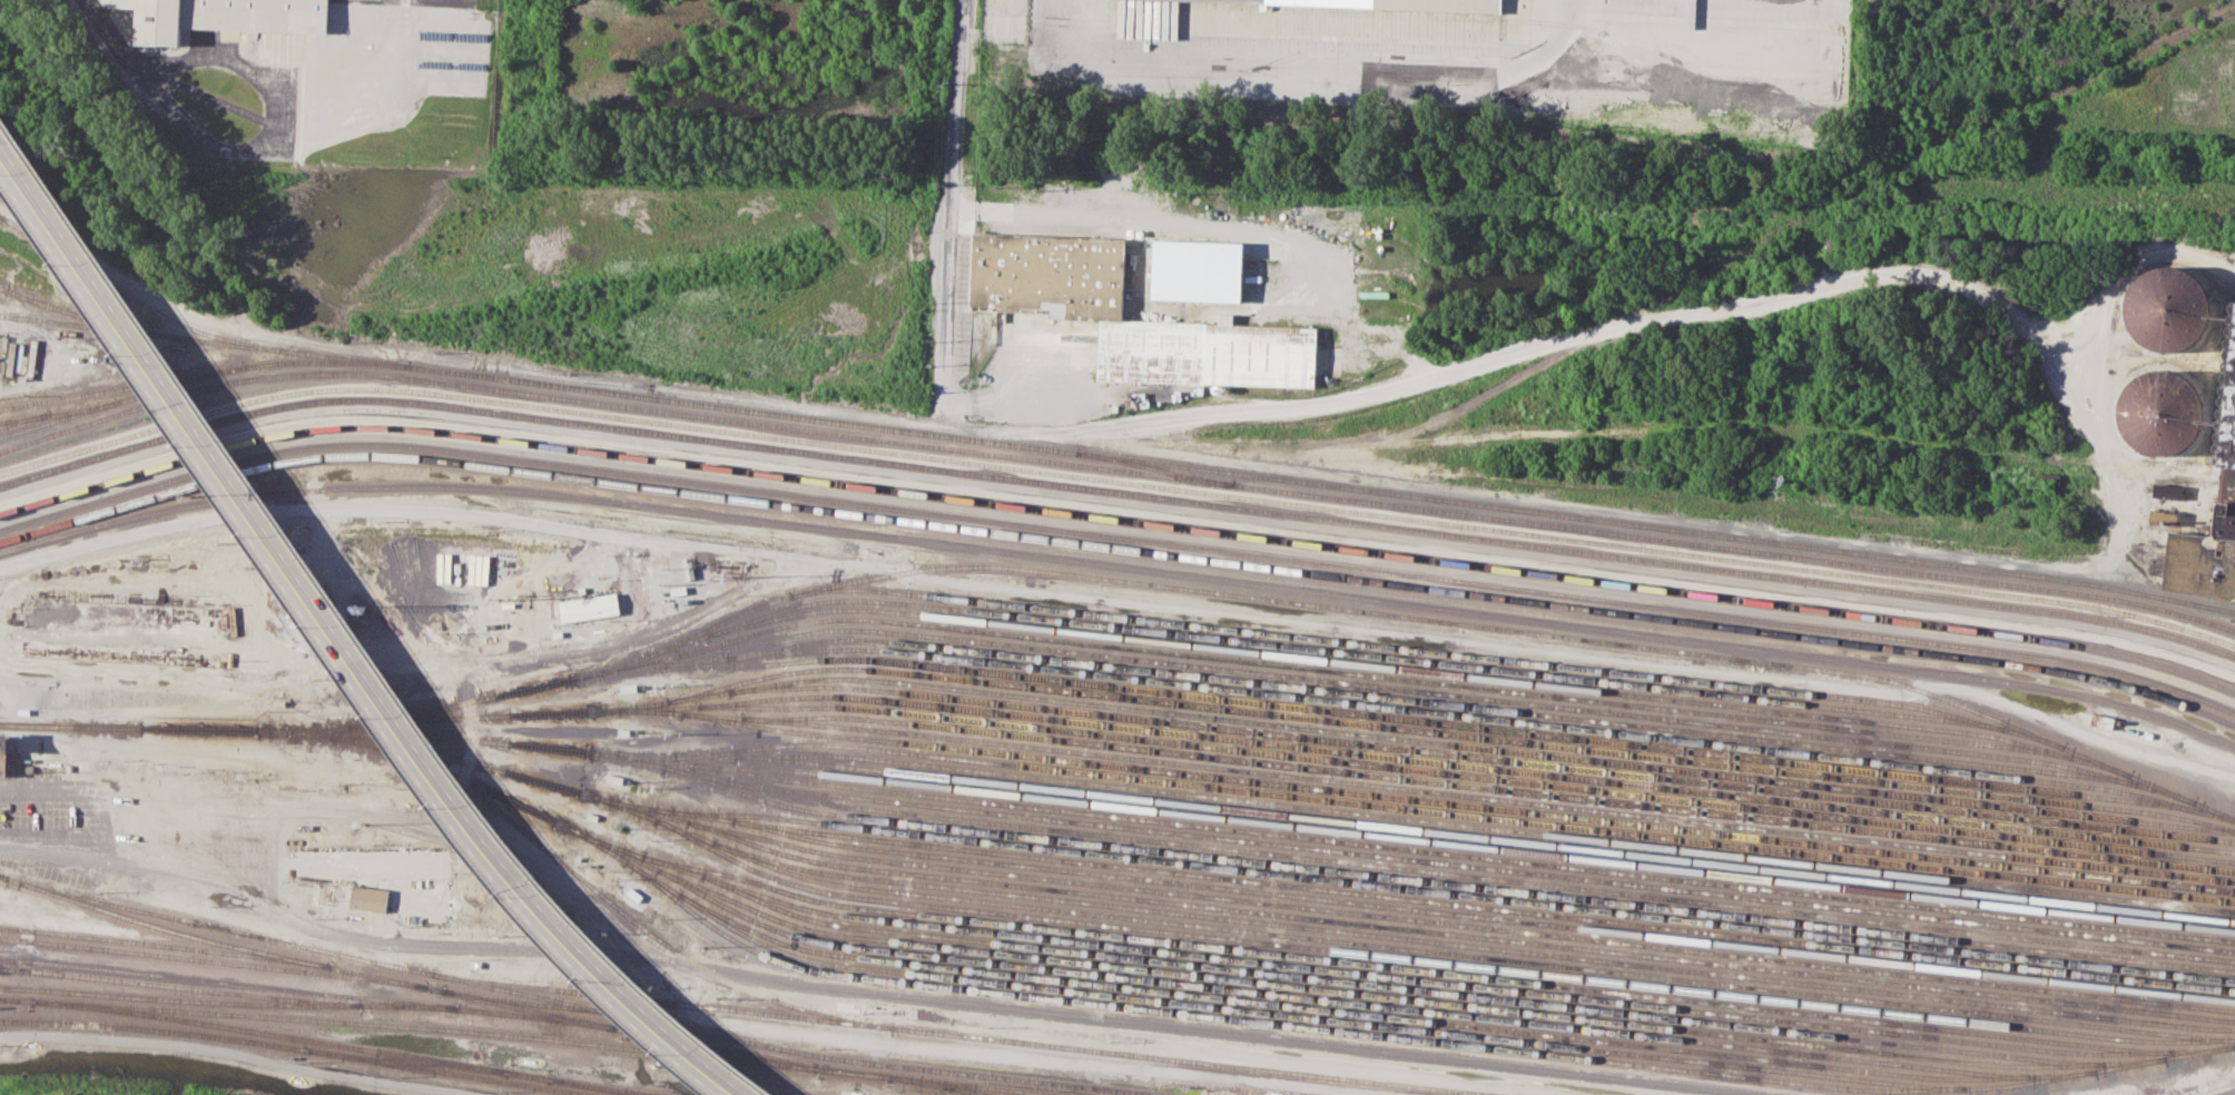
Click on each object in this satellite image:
building: (1378, 6)
building: (225, 17)
road: (1549, 28)
wind turbine: (366, 43)
road: (1438, 67)
railway: (90, 142)
railway: (1936, 144)
railway: (116, 156)
road: (949, 215)
road: (1115, 218)
road: (2124, 269)
building: (1195, 270)
building: (1052, 275)
railway: (136, 297)
building: (2164, 308)
railway: (90, 316)
railway: (201, 339)
road: (1515, 348)
building: (1208, 354)
railway: (118, 399)
building: (2227, 404)
building: (2158, 412)
railway: (57, 413)
railway: (22, 418)
railway: (1117, 457)
railway: (1114, 471)
railway: (1175, 471)
railway: (1115, 481)
railway: (1115, 493)
railway: (1115, 510)
railway: (1116, 519)
railway: (1116, 535)
railway: (1116, 546)
building: (2200, 546)
railway: (1120, 565)
road: (1121, 602)
building: (589, 605)
railway: (1369, 611)
road: (343, 642)
railway: (1328, 650)
railway: (1426, 650)
road: (422, 662)
railway: (1319, 668)
railway: (1416, 669)
railway: (1426, 691)
railway: (1353, 693)
railway: (709, 696)
railway: (661, 708)
railway: (590, 710)
railway: (688, 712)
railway: (385, 718)
railway: (431, 718)
railway: (1489, 718)
railway: (1424, 720)
railway: (137, 726)
railway: (391, 732)
railway: (1451, 734)
railway: (383, 747)
railway: (1490, 748)
railway: (417, 749)
railway: (649, 754)
railway: (1491, 758)
building: (6, 761)
railway: (1471, 766)
railway: (1471, 776)
railway: (1498, 788)
railway: (1498, 798)
railway: (1458, 803)
railway: (1458, 813)
railway: (1458, 823)
railway: (568, 827)
railway: (1487, 837)
railway: (1370, 845)
railway: (1467, 845)
railway: (1424, 860)
railway: (1, 875)
railway: (1478, 877)
railway: (1449, 881)
railway: (1368, 884)
building: (367, 898)
railway: (1457, 902)
railway: (1488, 917)
railway: (1417, 918)
railway: (634, 921)
railway: (228, 929)
railway: (1465, 934)
railway: (1414, 938)
railway: (166, 944)
railway: (1476, 955)
railway: (210, 960)
railway: (1357, 963)
railway: (1445, 963)
railway: (885, 979)
railway: (403, 980)
railway: (1430, 980)
railway: (180, 986)
railway: (1395, 987)
railway: (311, 992)
railway: (1347, 992)
road: (878, 993)
railway: (19, 999)
railway: (1331, 999)
railway: (228, 1002)
railway: (530, 1002)
railway: (1350, 1012)
railway: (1303, 1016)
railway: (138, 1027)
railway: (465, 1029)
railway: (558, 1033)
railway: (958, 1035)
railway: (272, 1037)
railway: (297, 1037)
railway: (795, 1049)
railway: (406, 1059)
railway: (435, 1069)
railway: (1694, 1071)
railway: (941, 1086)
railway: (976, 1086)
railway: (592, 1087)
railway: (608, 1087)

